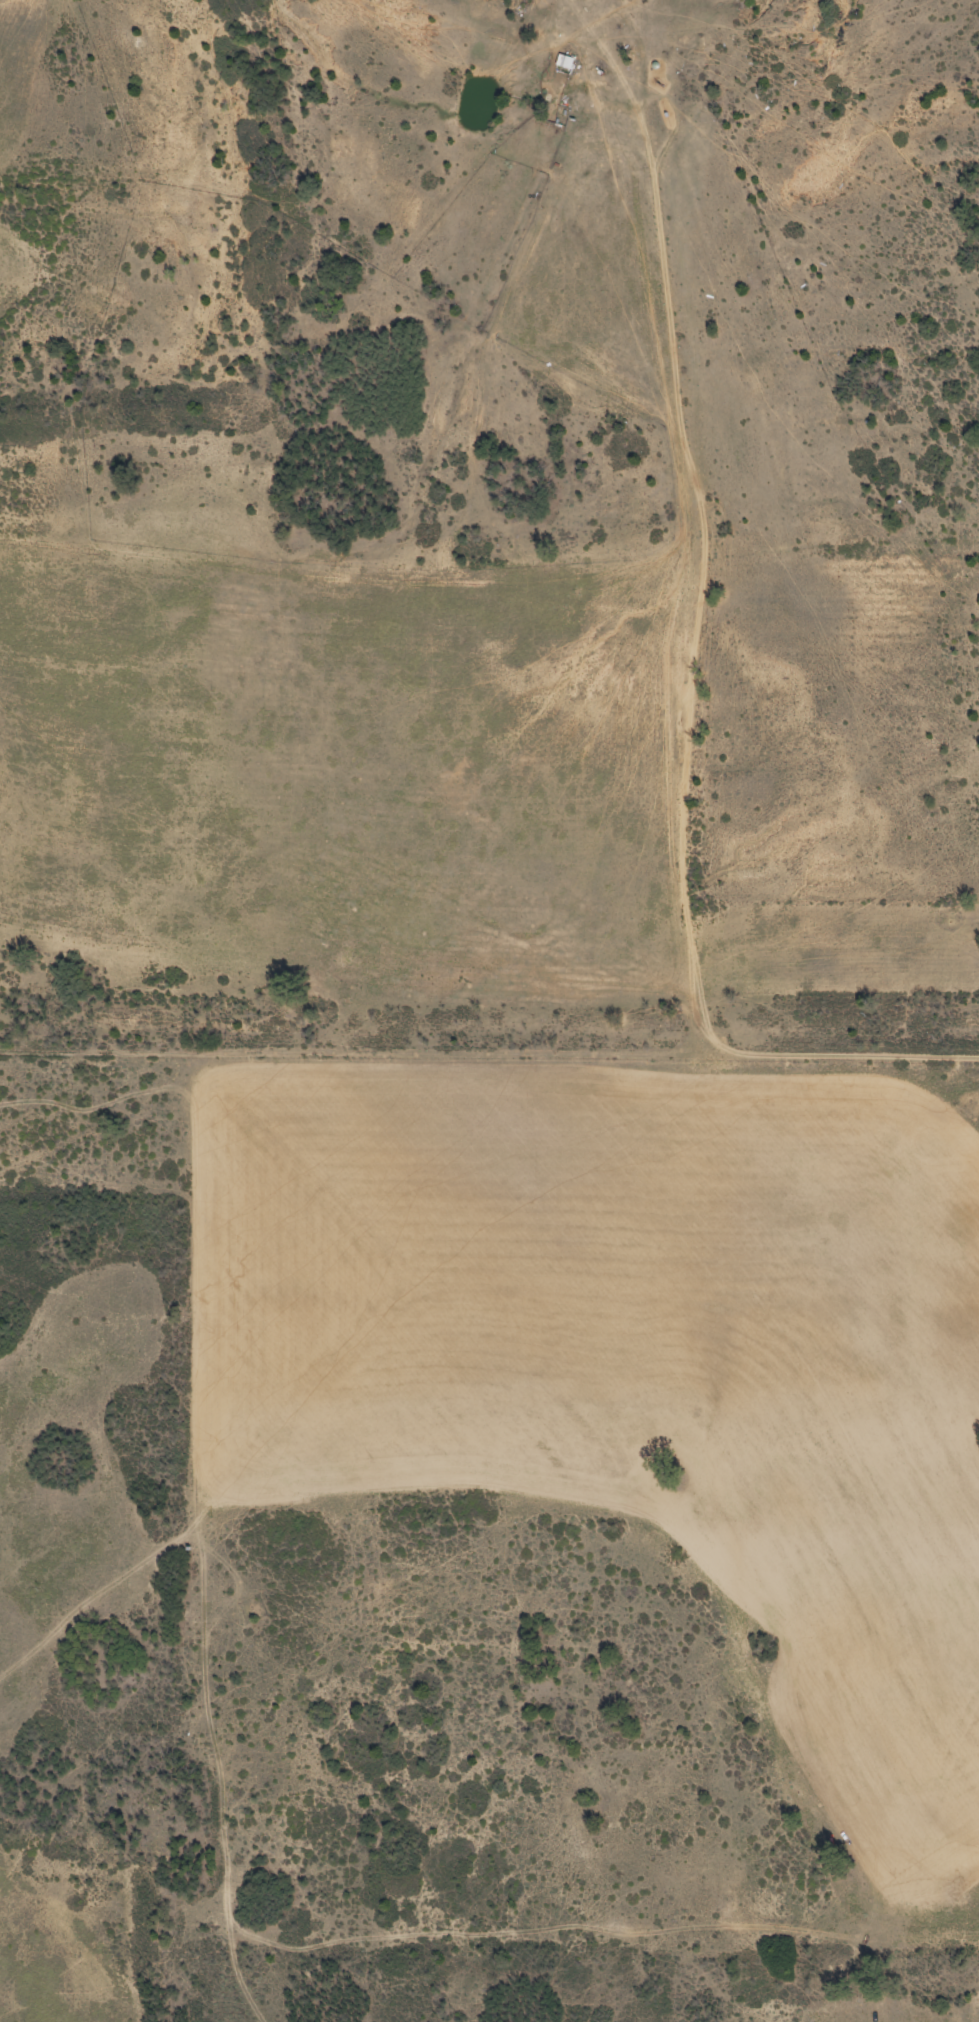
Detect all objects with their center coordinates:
building: (563, 61)

